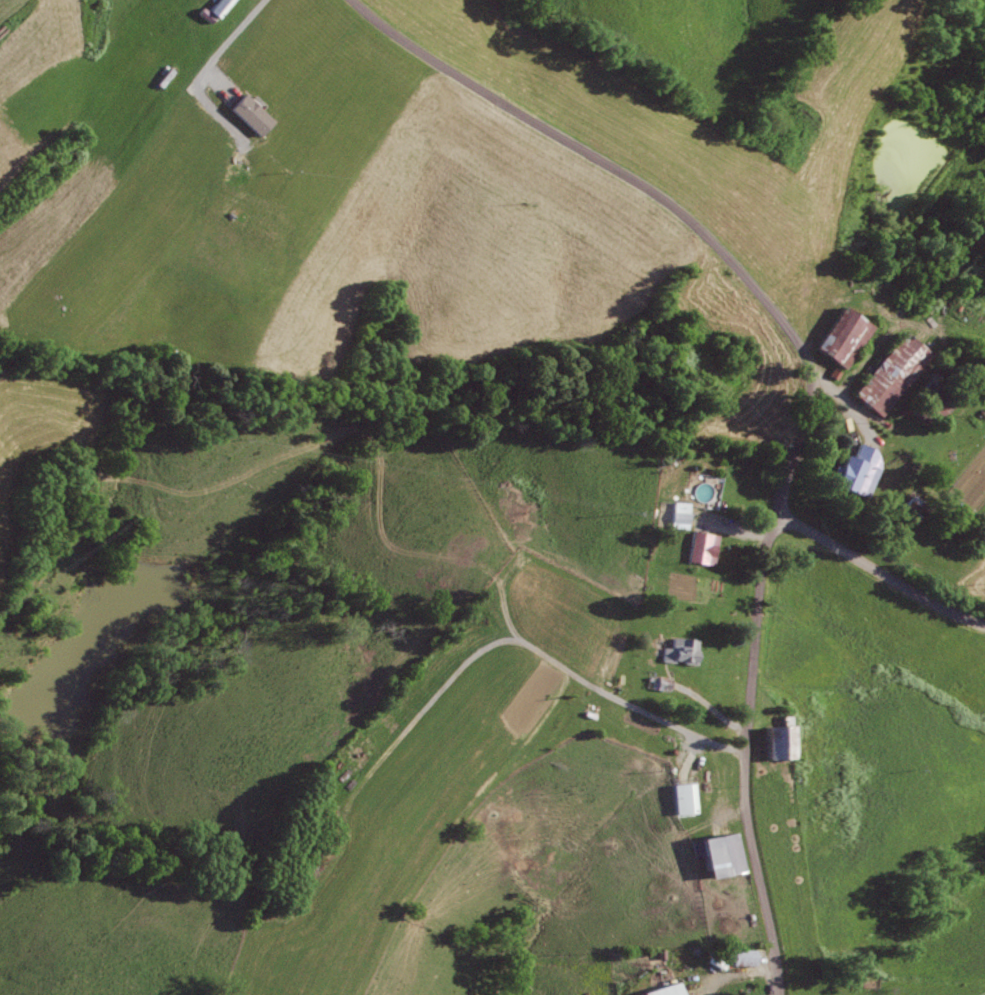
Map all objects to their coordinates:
building: (217, 7)
road: (231, 37)
building: (247, 114)
building: (837, 338)
building: (887, 374)
road: (811, 389)
building: (855, 471)
building: (677, 515)
building: (699, 548)
road: (879, 572)
building: (679, 651)
building: (773, 741)
building: (683, 799)
building: (714, 855)
building: (738, 958)
park: (869, 980)
building: (660, 990)

